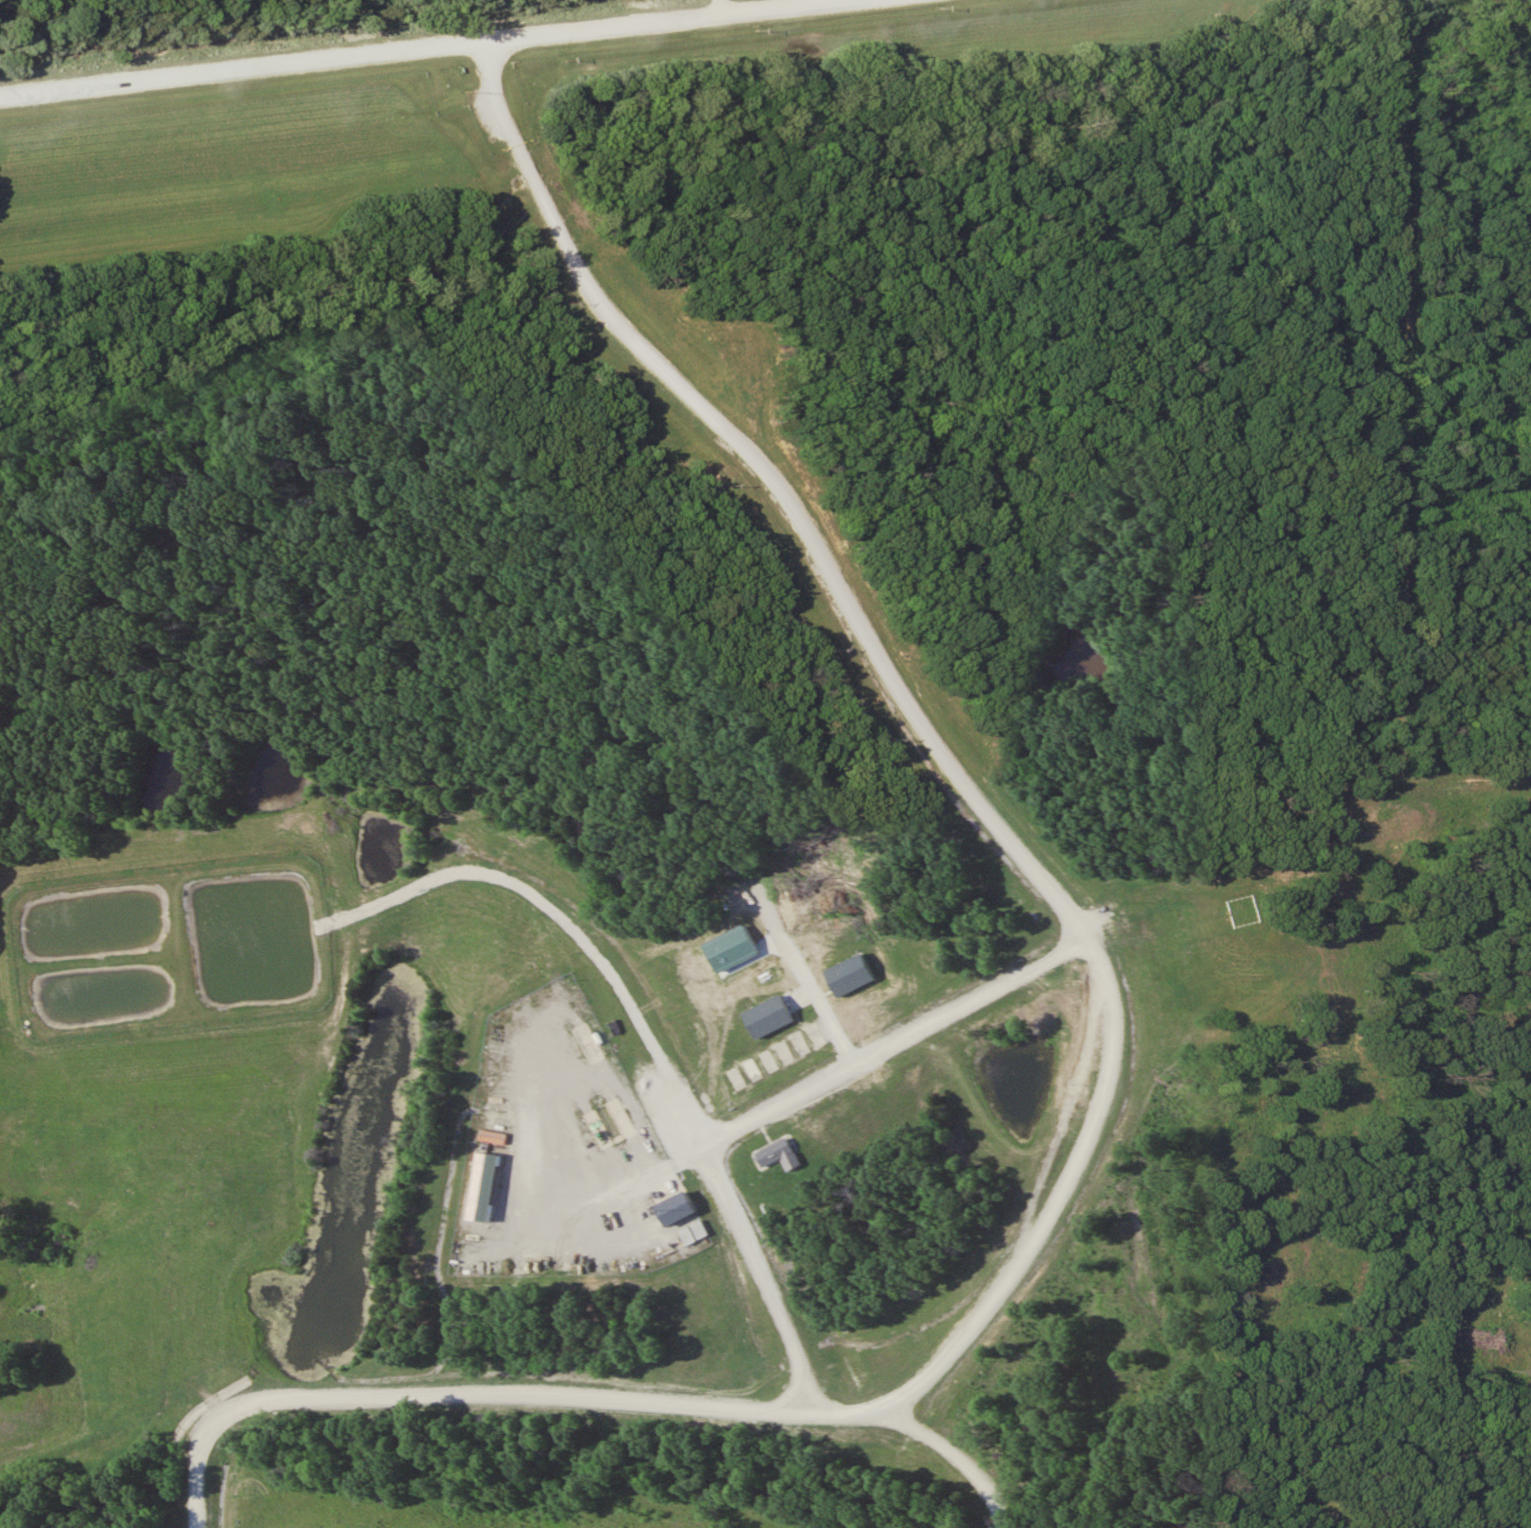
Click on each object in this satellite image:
road: (716, 9)
road: (431, 50)
building: (732, 887)
building: (736, 1040)
building: (800, 1044)
building: (784, 1052)
road: (1109, 1058)
building: (768, 1061)
building: (752, 1069)
building: (736, 1078)
building: (777, 1153)
building: (674, 1208)
road: (960, 1460)

